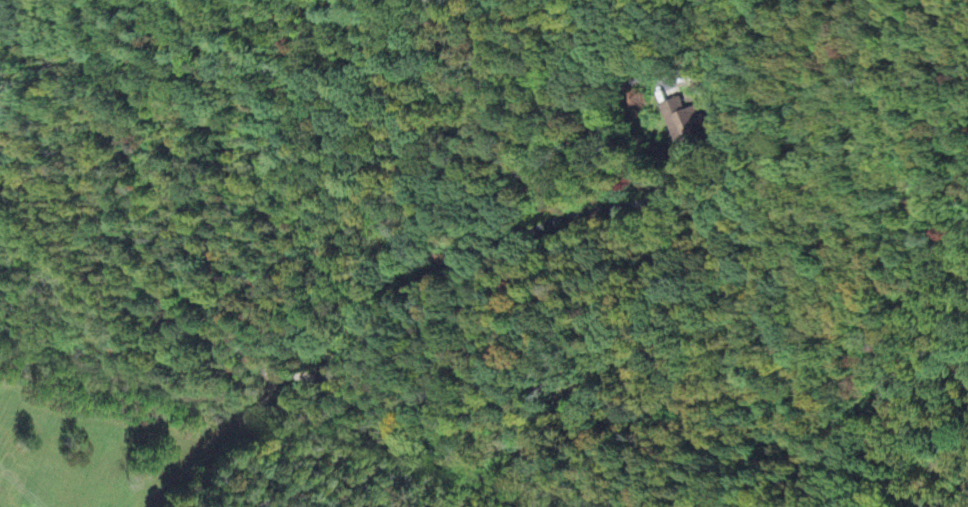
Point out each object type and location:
building: (683, 123)

